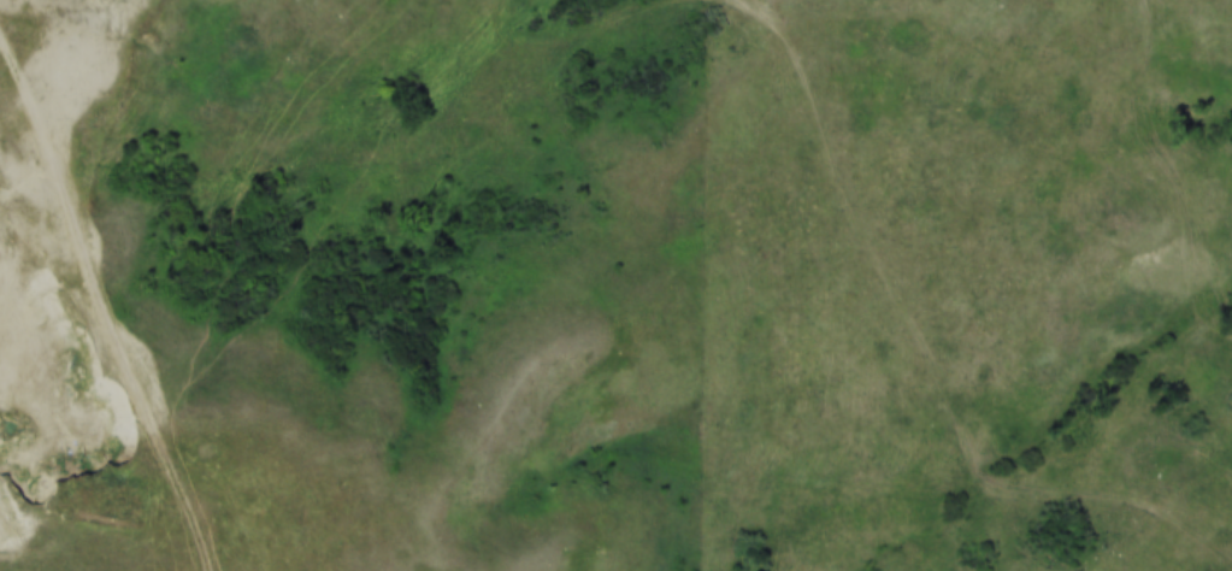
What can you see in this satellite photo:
quarry: (59, 245)
road: (84, 271)
road: (140, 457)

